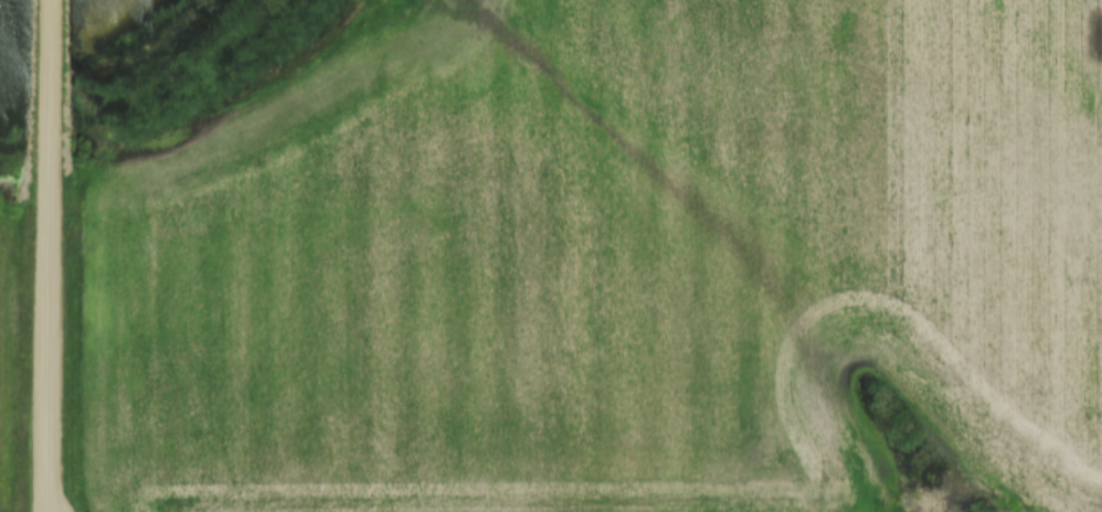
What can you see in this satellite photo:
road: (46, 256)

